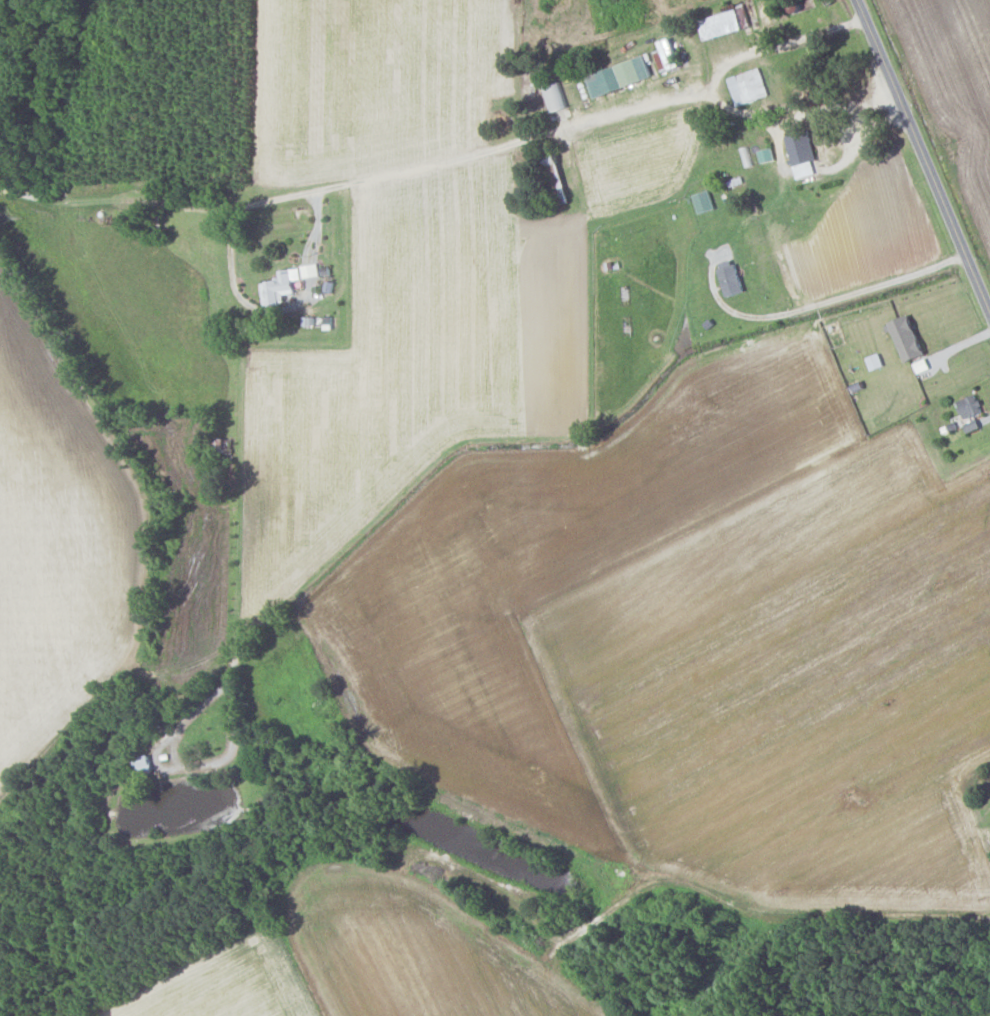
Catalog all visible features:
building: (723, 21)
building: (618, 74)
building: (747, 85)
building: (554, 95)
road: (773, 106)
road: (795, 114)
building: (800, 152)
road: (923, 160)
road: (443, 166)
building: (308, 269)
building: (730, 278)
building: (279, 285)
road: (237, 292)
road: (826, 299)
building: (907, 336)
building: (969, 405)
road: (763, 920)

